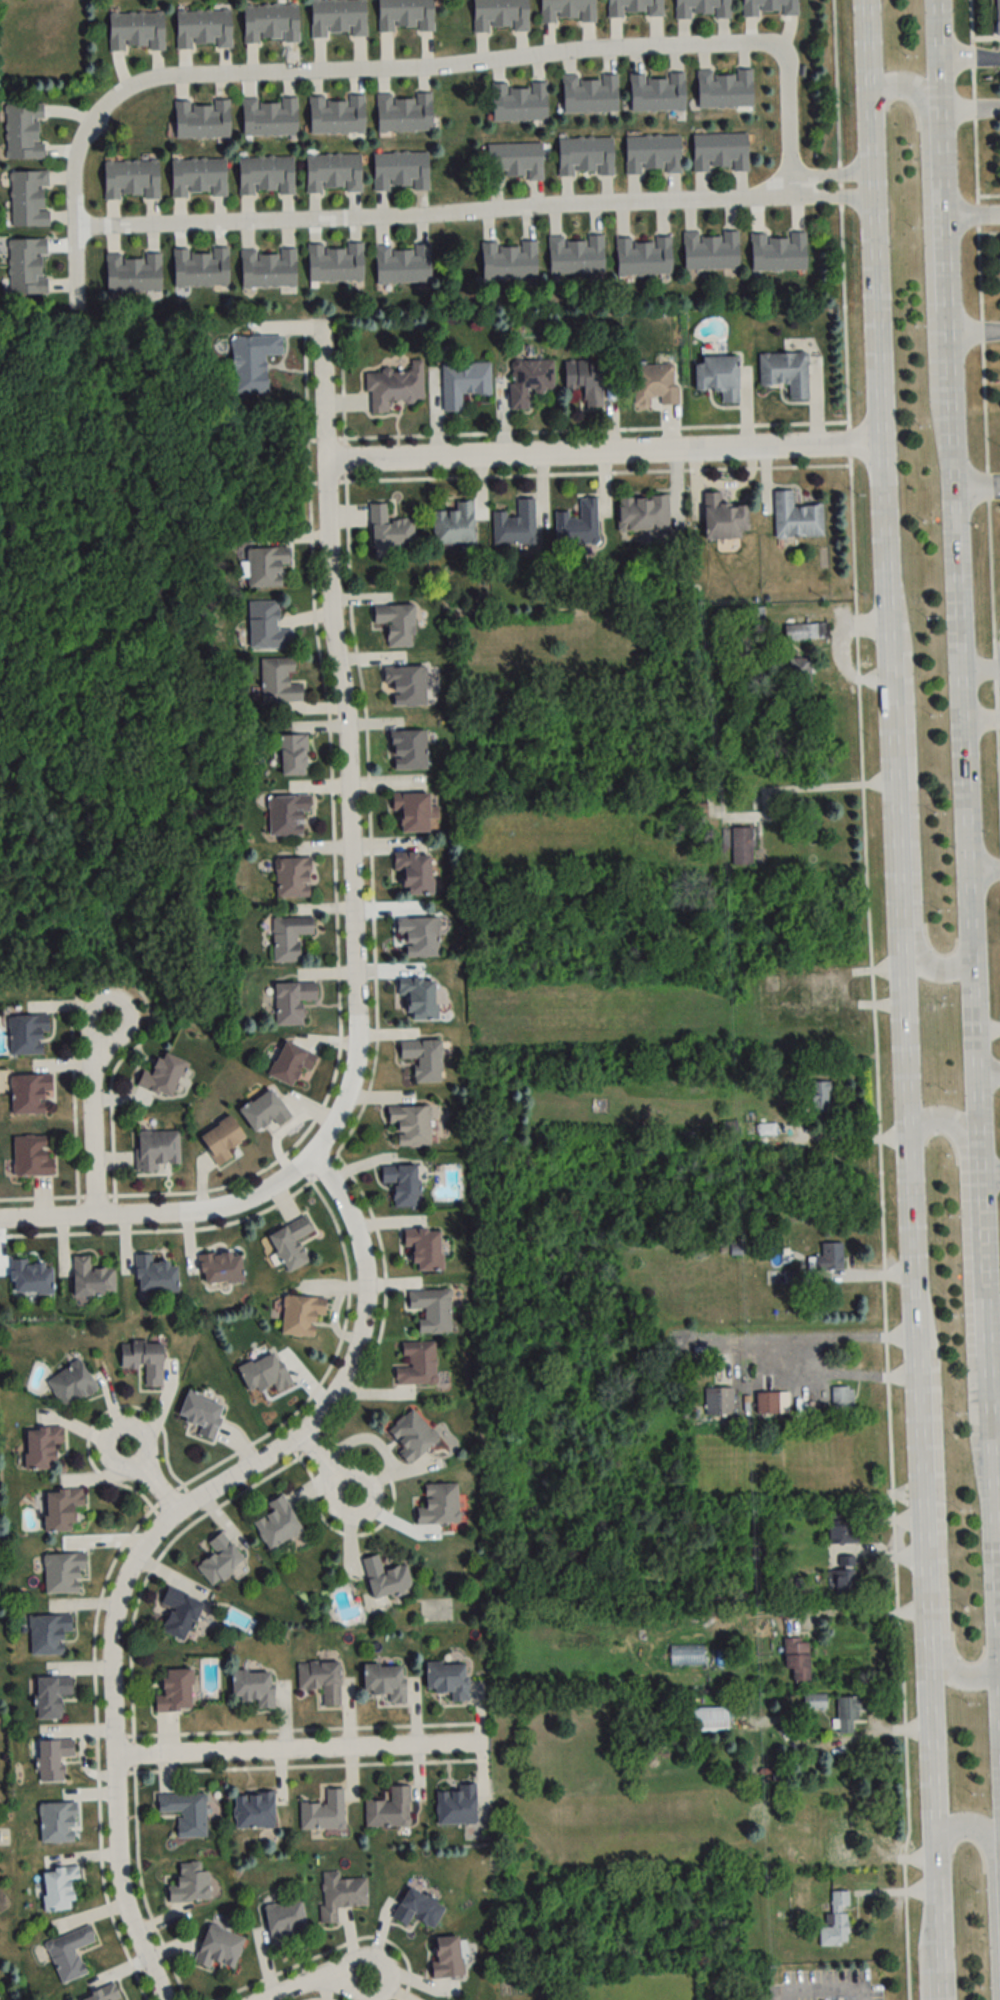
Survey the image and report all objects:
building: (769, 7)
building: (634, 8)
building: (701, 8)
building: (567, 10)
building: (404, 15)
building: (499, 15)
building: (997, 16)
building: (337, 18)
building: (270, 23)
building: (203, 28)
building: (135, 31)
road: (968, 61)
road: (405, 67)
building: (724, 89)
building: (657, 92)
building: (589, 94)
building: (518, 103)
road: (938, 109)
road: (969, 111)
building: (403, 113)
building: (336, 115)
building: (269, 117)
building: (201, 119)
road: (924, 126)
building: (23, 131)
building: (719, 152)
building: (652, 154)
building: (585, 156)
building: (514, 161)
building: (400, 170)
building: (333, 172)
road: (826, 173)
building: (265, 175)
building: (198, 177)
building: (130, 179)
building: (28, 198)
road: (827, 198)
road: (432, 214)
road: (971, 219)
building: (710, 250)
building: (778, 251)
building: (576, 254)
building: (643, 256)
building: (508, 260)
building: (334, 262)
building: (402, 263)
road: (944, 263)
building: (26, 266)
building: (199, 267)
building: (267, 268)
building: (133, 273)
road: (973, 337)
road: (986, 359)
building: (252, 362)
building: (785, 372)
building: (716, 376)
building: (529, 380)
building: (585, 380)
building: (463, 382)
building: (654, 384)
building: (394, 387)
road: (602, 455)
road: (976, 479)
building: (642, 513)
building: (722, 517)
building: (796, 517)
building: (454, 524)
building: (515, 524)
building: (578, 524)
building: (389, 528)
building: (266, 567)
building: (395, 623)
building: (266, 627)
building: (805, 631)
road: (980, 669)
building: (798, 674)
building: (278, 681)
building: (405, 685)
road: (980, 719)
road: (349, 745)
building: (408, 750)
building: (293, 755)
road: (835, 782)
road: (909, 798)
building: (740, 802)
building: (411, 812)
building: (286, 815)
building: (738, 845)
road: (983, 870)
building: (413, 873)
building: (292, 877)
building: (288, 937)
building: (418, 937)
building: (811, 980)
building: (770, 984)
building: (418, 998)
road: (877, 1000)
road: (901, 1000)
building: (821, 1001)
building: (292, 1002)
road: (971, 1007)
building: (26, 1035)
building: (423, 1059)
building: (290, 1064)
road: (987, 1072)
building: (162, 1076)
building: (28, 1094)
building: (820, 1099)
building: (263, 1110)
road: (93, 1120)
building: (410, 1124)
building: (727, 1129)
building: (765, 1130)
building: (220, 1140)
building: (156, 1151)
building: (31, 1156)
road: (989, 1177)
building: (401, 1184)
road: (966, 1200)
road: (162, 1216)
building: (290, 1244)
building: (423, 1249)
building: (829, 1257)
building: (220, 1269)
road: (858, 1274)
building: (154, 1275)
building: (31, 1279)
building: (91, 1279)
building: (431, 1310)
building: (300, 1315)
road: (992, 1325)
road: (819, 1338)
building: (143, 1361)
building: (417, 1364)
building: (264, 1374)
road: (837, 1375)
building: (71, 1384)
building: (841, 1398)
building: (719, 1402)
building: (771, 1403)
building: (200, 1415)
road: (993, 1416)
building: (411, 1435)
building: (40, 1448)
road: (325, 1466)
road: (152, 1480)
building: (439, 1505)
building: (63, 1510)
building: (277, 1525)
building: (842, 1531)
road: (154, 1535)
building: (219, 1560)
building: (62, 1574)
building: (385, 1577)
building: (840, 1583)
road: (941, 1606)
building: (179, 1613)
road: (873, 1614)
road: (998, 1629)
building: (49, 1633)
building: (686, 1655)
building: (796, 1656)
building: (447, 1678)
building: (320, 1679)
building: (384, 1680)
building: (252, 1686)
building: (174, 1690)
building: (50, 1695)
building: (814, 1702)
building: (847, 1713)
building: (707, 1719)
road: (300, 1747)
building: (52, 1757)
building: (456, 1805)
building: (389, 1808)
building: (253, 1810)
building: (185, 1811)
building: (324, 1812)
building: (56, 1821)
building: (842, 1849)
building: (189, 1881)
road: (991, 1884)
building: (58, 1886)
building: (340, 1894)
building: (417, 1908)
building: (285, 1921)
building: (836, 1921)
building: (219, 1947)
building: (70, 1952)
building: (446, 1956)
road: (319, 1981)
road: (822, 1987)
building: (101, 1993)

